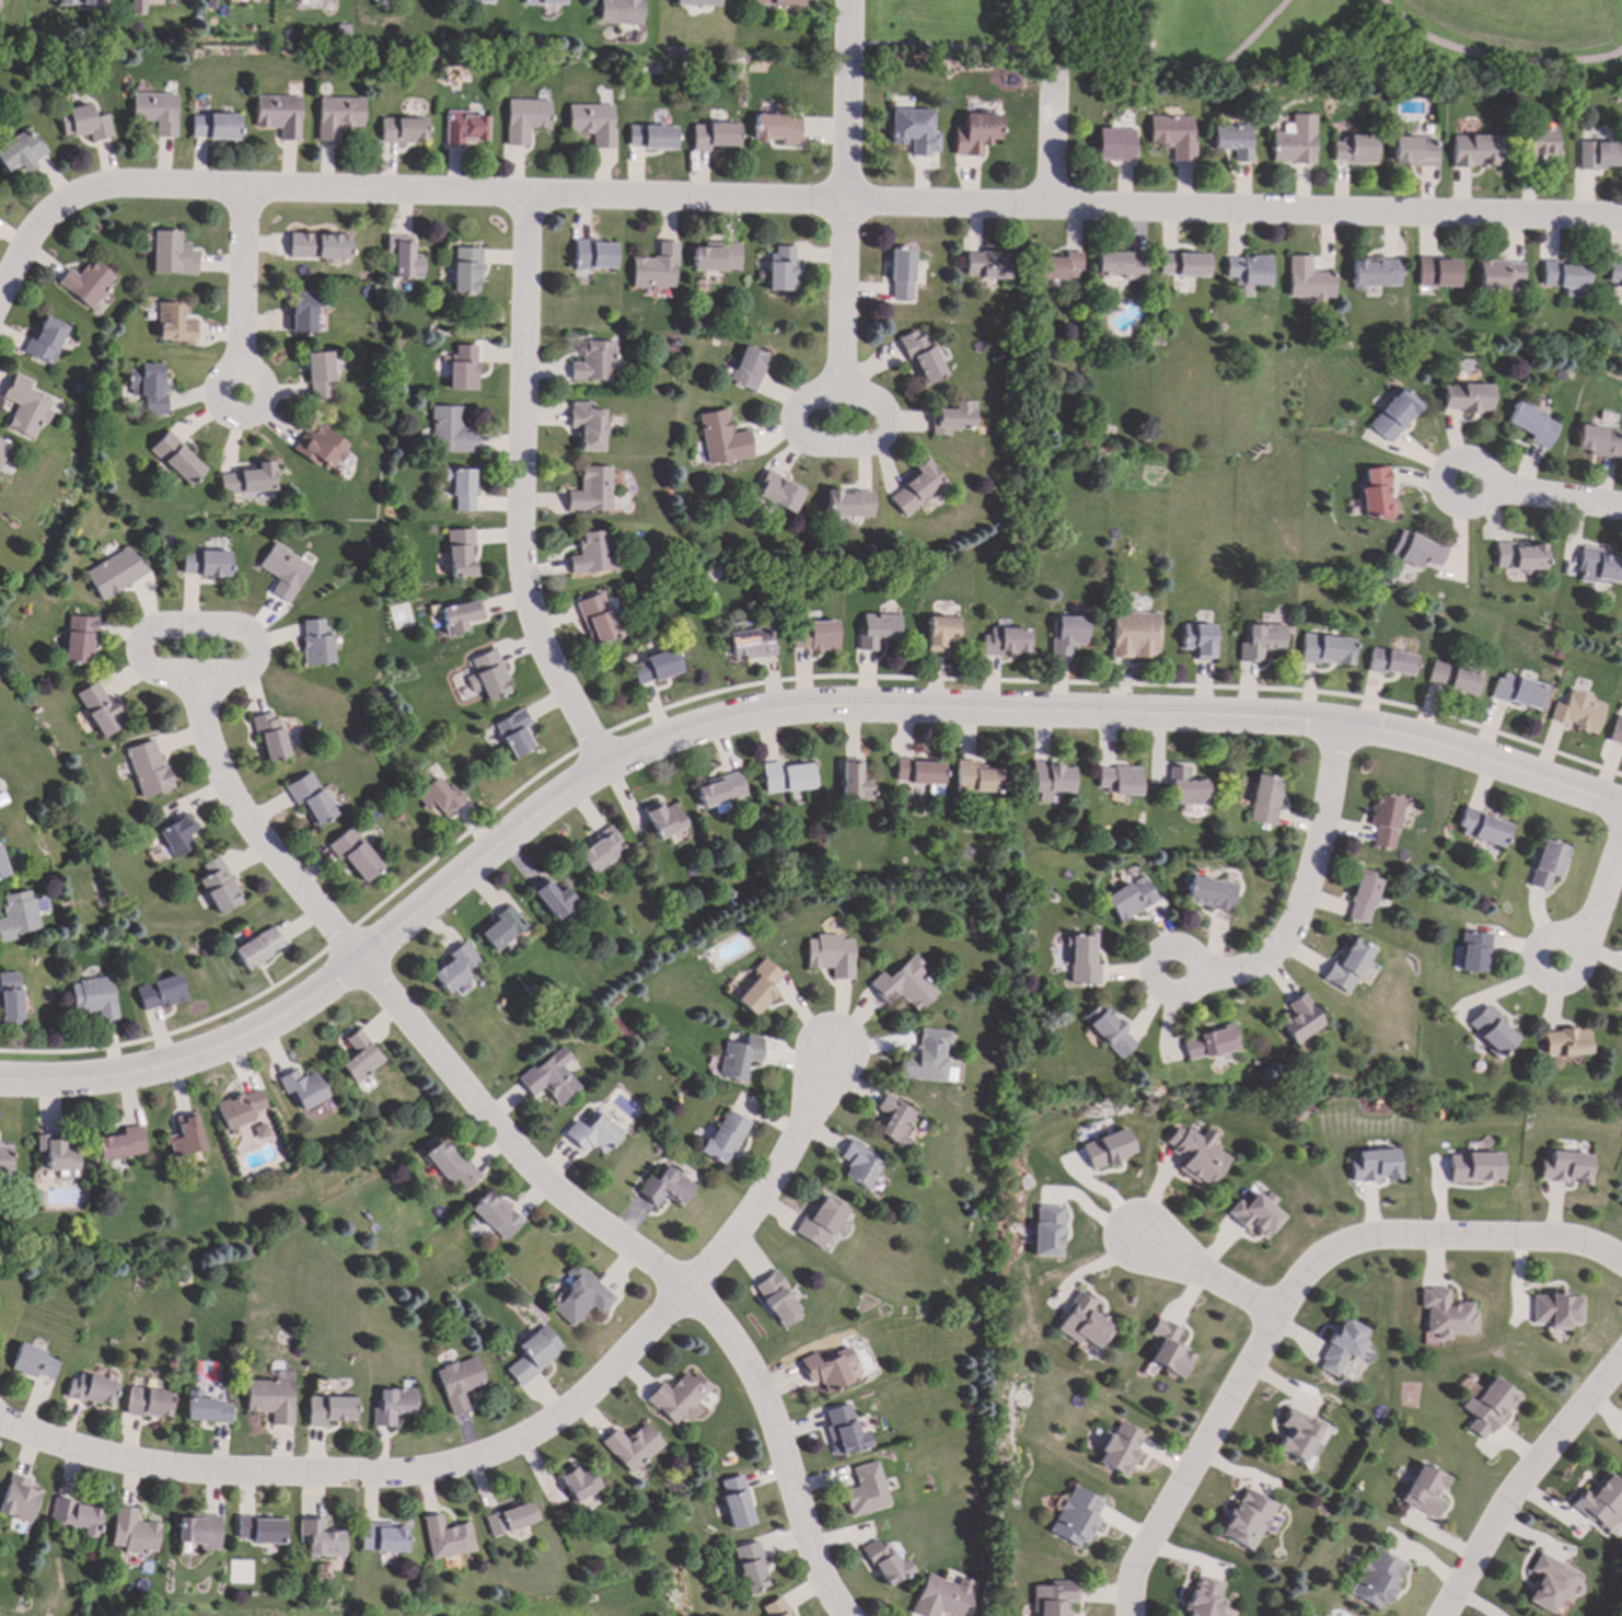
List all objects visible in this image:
building: (470, 1)
building: (76, 2)
building: (544, 2)
building: (778, 2)
building: (697, 3)
building: (136, 8)
building: (619, 12)
road: (1048, 28)
park: (1252, 39)
road: (1495, 57)
road: (1082, 59)
road: (848, 101)
building: (155, 112)
building: (279, 115)
building: (337, 117)
building: (525, 119)
building: (83, 124)
building: (593, 124)
building: (215, 127)
building: (464, 127)
building: (778, 128)
building: (403, 130)
road: (1054, 130)
building: (914, 131)
building: (975, 134)
building: (714, 136)
building: (1172, 136)
building: (653, 138)
building: (1232, 140)
building: (1295, 141)
building: (1538, 143)
building: (1114, 145)
building: (1355, 150)
building: (21, 151)
building: (1414, 151)
building: (1476, 151)
building: (1598, 155)
road: (783, 200)
building: (320, 247)
building: (173, 254)
building: (594, 255)
building: (404, 257)
building: (717, 257)
building: (986, 265)
building: (1120, 265)
building: (1183, 265)
building: (1059, 267)
building: (656, 268)
building: (781, 268)
building: (466, 269)
building: (1247, 270)
building: (1374, 273)
building: (1437, 273)
building: (1614, 273)
building: (901, 275)
building: (1501, 275)
building: (1564, 278)
building: (1307, 280)
road: (244, 281)
building: (88, 282)
road: (845, 301)
building: (302, 312)
building: (174, 324)
building: (45, 340)
building: (922, 358)
building: (594, 362)
building: (463, 369)
building: (748, 369)
building: (320, 376)
building: (149, 388)
building: (1467, 397)
road: (263, 404)
building: (25, 407)
building: (1394, 416)
building: (952, 418)
building: (1533, 425)
building: (587, 426)
building: (450, 431)
building: (722, 439)
building: (1599, 442)
road: (811, 445)
building: (318, 447)
building: (2, 450)
building: (177, 459)
building: (247, 481)
building: (915, 487)
building: (461, 488)
road: (521, 490)
building: (591, 490)
road: (1444, 492)
building: (779, 493)
building: (1377, 495)
road: (1555, 497)
building: (848, 505)
building: (1415, 551)
building: (459, 553)
building: (592, 554)
building: (1518, 557)
building: (205, 564)
building: (1599, 567)
building: (283, 572)
building: (115, 574)
building: (460, 616)
building: (596, 620)
road: (216, 628)
building: (877, 631)
building: (940, 632)
building: (1134, 635)
building: (813, 636)
building: (80, 640)
building: (1005, 642)
building: (1198, 642)
building: (1261, 642)
building: (316, 643)
building: (751, 644)
building: (1325, 650)
building: (1391, 662)
building: (654, 668)
building: (487, 676)
building: (1453, 679)
road: (763, 683)
building: (1519, 692)
building: (101, 711)
road: (763, 713)
building: (1579, 713)
building: (514, 732)
building: (1617, 732)
building: (269, 737)
building: (149, 769)
building: (918, 772)
building: (786, 777)
building: (976, 778)
building: (1051, 781)
building: (1120, 781)
building: (853, 783)
building: (1185, 789)
building: (719, 790)
building: (438, 797)
building: (310, 798)
building: (2, 799)
building: (1264, 800)
building: (663, 820)
building: (1386, 820)
building: (1483, 828)
road: (254, 831)
building: (178, 836)
building: (600, 851)
building: (355, 855)
building: (1548, 864)
building: (2, 869)
road: (1311, 882)
building: (219, 886)
building: (1210, 893)
building: (1364, 897)
building: (1131, 899)
building: (554, 900)
road: (1604, 904)
building: (16, 915)
building: (501, 930)
building: (257, 948)
road: (1540, 950)
building: (1475, 951)
building: (831, 956)
building: (1084, 959)
building: (1348, 966)
building: (455, 967)
road: (1155, 977)
building: (904, 985)
building: (758, 989)
building: (160, 993)
building: (93, 997)
building: (1619, 997)
building: (10, 999)
building: (1299, 1019)
building: (1110, 1031)
building: (1492, 1031)
building: (1565, 1042)
building: (1209, 1043)
building: (359, 1058)
building: (739, 1058)
building: (926, 1058)
building: (551, 1077)
building: (302, 1089)
building: (241, 1108)
building: (895, 1121)
building: (260, 1131)
building: (593, 1134)
building: (725, 1136)
building: (185, 1138)
building: (121, 1144)
building: (1109, 1150)
building: (57, 1153)
building: (1197, 1155)
building: (4, 1159)
building: (449, 1165)
building: (859, 1165)
building: (1376, 1166)
building: (1475, 1167)
building: (1566, 1168)
road: (773, 1178)
building: (665, 1188)
building: (1255, 1214)
building: (495, 1216)
building: (822, 1222)
building: (1050, 1232)
road: (646, 1260)
road: (1210, 1278)
building: (580, 1296)
road: (1290, 1297)
building: (778, 1300)
building: (1556, 1311)
building: (1447, 1315)
building: (1084, 1323)
building: (1341, 1347)
building: (1168, 1349)
building: (534, 1354)
building: (33, 1363)
building: (829, 1370)
building: (459, 1383)
building: (91, 1389)
building: (679, 1398)
building: (271, 1400)
building: (149, 1404)
building: (393, 1406)
building: (1487, 1407)
building: (207, 1409)
building: (329, 1410)
building: (844, 1432)
building: (1298, 1435)
building: (1621, 1443)
building: (1621, 1444)
building: (630, 1447)
building: (1120, 1450)
road: (371, 1475)
building: (578, 1484)
road: (1523, 1484)
building: (866, 1490)
building: (1424, 1491)
building: (19, 1499)
building: (1601, 1502)
building: (737, 1503)
building: (76, 1516)
building: (1078, 1517)
building: (511, 1520)
building: (1248, 1520)
building: (260, 1531)
building: (132, 1533)
building: (199, 1533)
building: (382, 1538)
building: (447, 1538)
building: (321, 1539)
building: (885, 1562)
building: (751, 1567)
building: (1376, 1579)
building: (1548, 1583)
building: (941, 1597)
building: (1055, 1598)
building: (1205, 1598)
building: (774, 1608)

